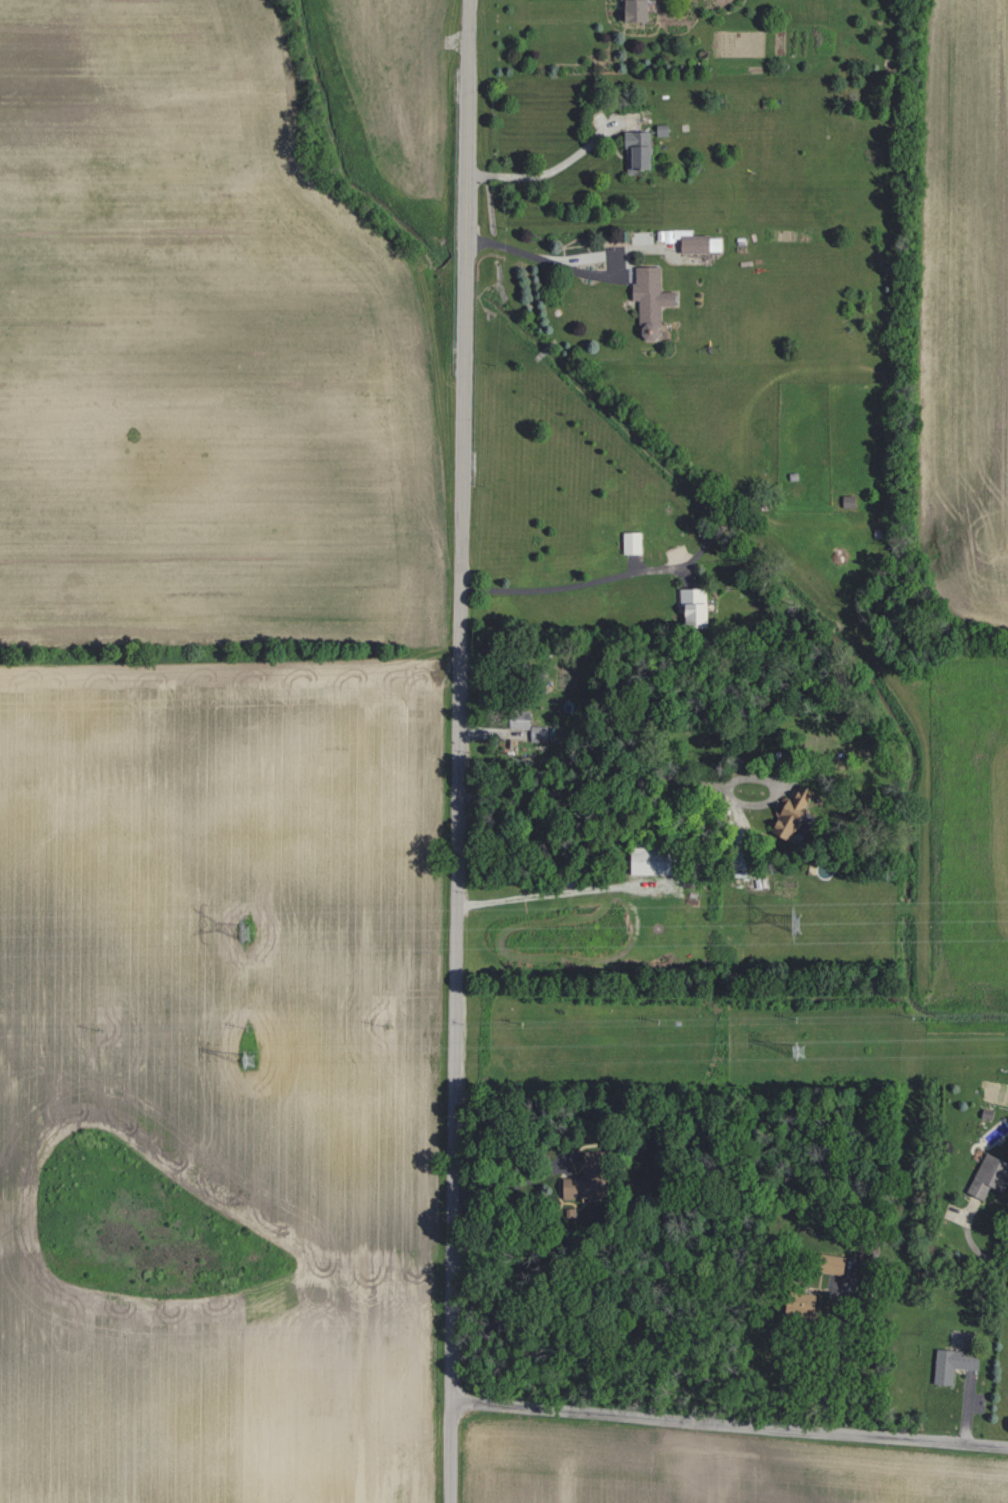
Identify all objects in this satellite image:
building: (629, 9)
building: (646, 156)
road: (544, 170)
building: (696, 243)
road: (543, 255)
building: (646, 293)
building: (629, 541)
road: (569, 584)
building: (689, 606)
building: (515, 717)
building: (535, 732)
road: (458, 751)
road: (648, 777)
building: (785, 814)
road: (557, 891)
power tower: (796, 926)
power tower: (244, 933)
power tower: (797, 1052)
power tower: (250, 1059)
building: (981, 1176)
road: (516, 1185)
building: (570, 1187)
road: (971, 1243)
building: (827, 1263)
building: (797, 1303)
road: (834, 1362)
building: (949, 1364)
road: (729, 1426)

